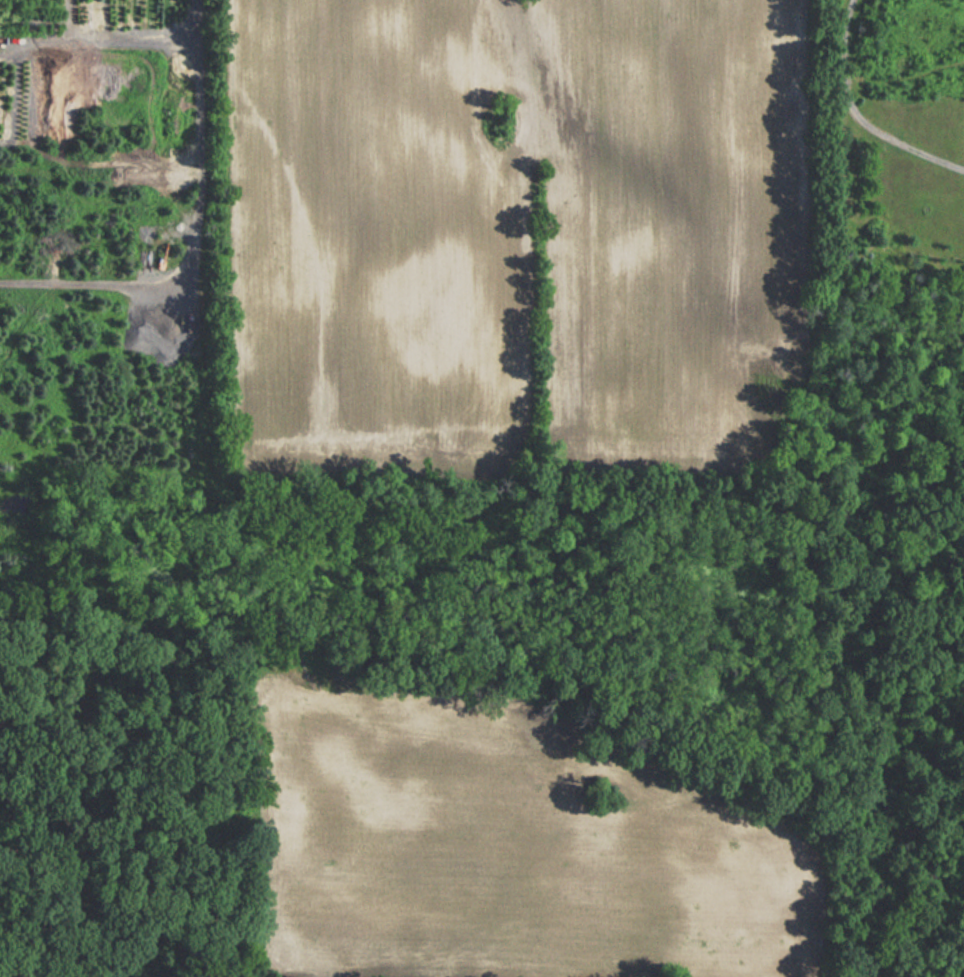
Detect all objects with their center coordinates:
road: (857, 115)
road: (195, 230)

